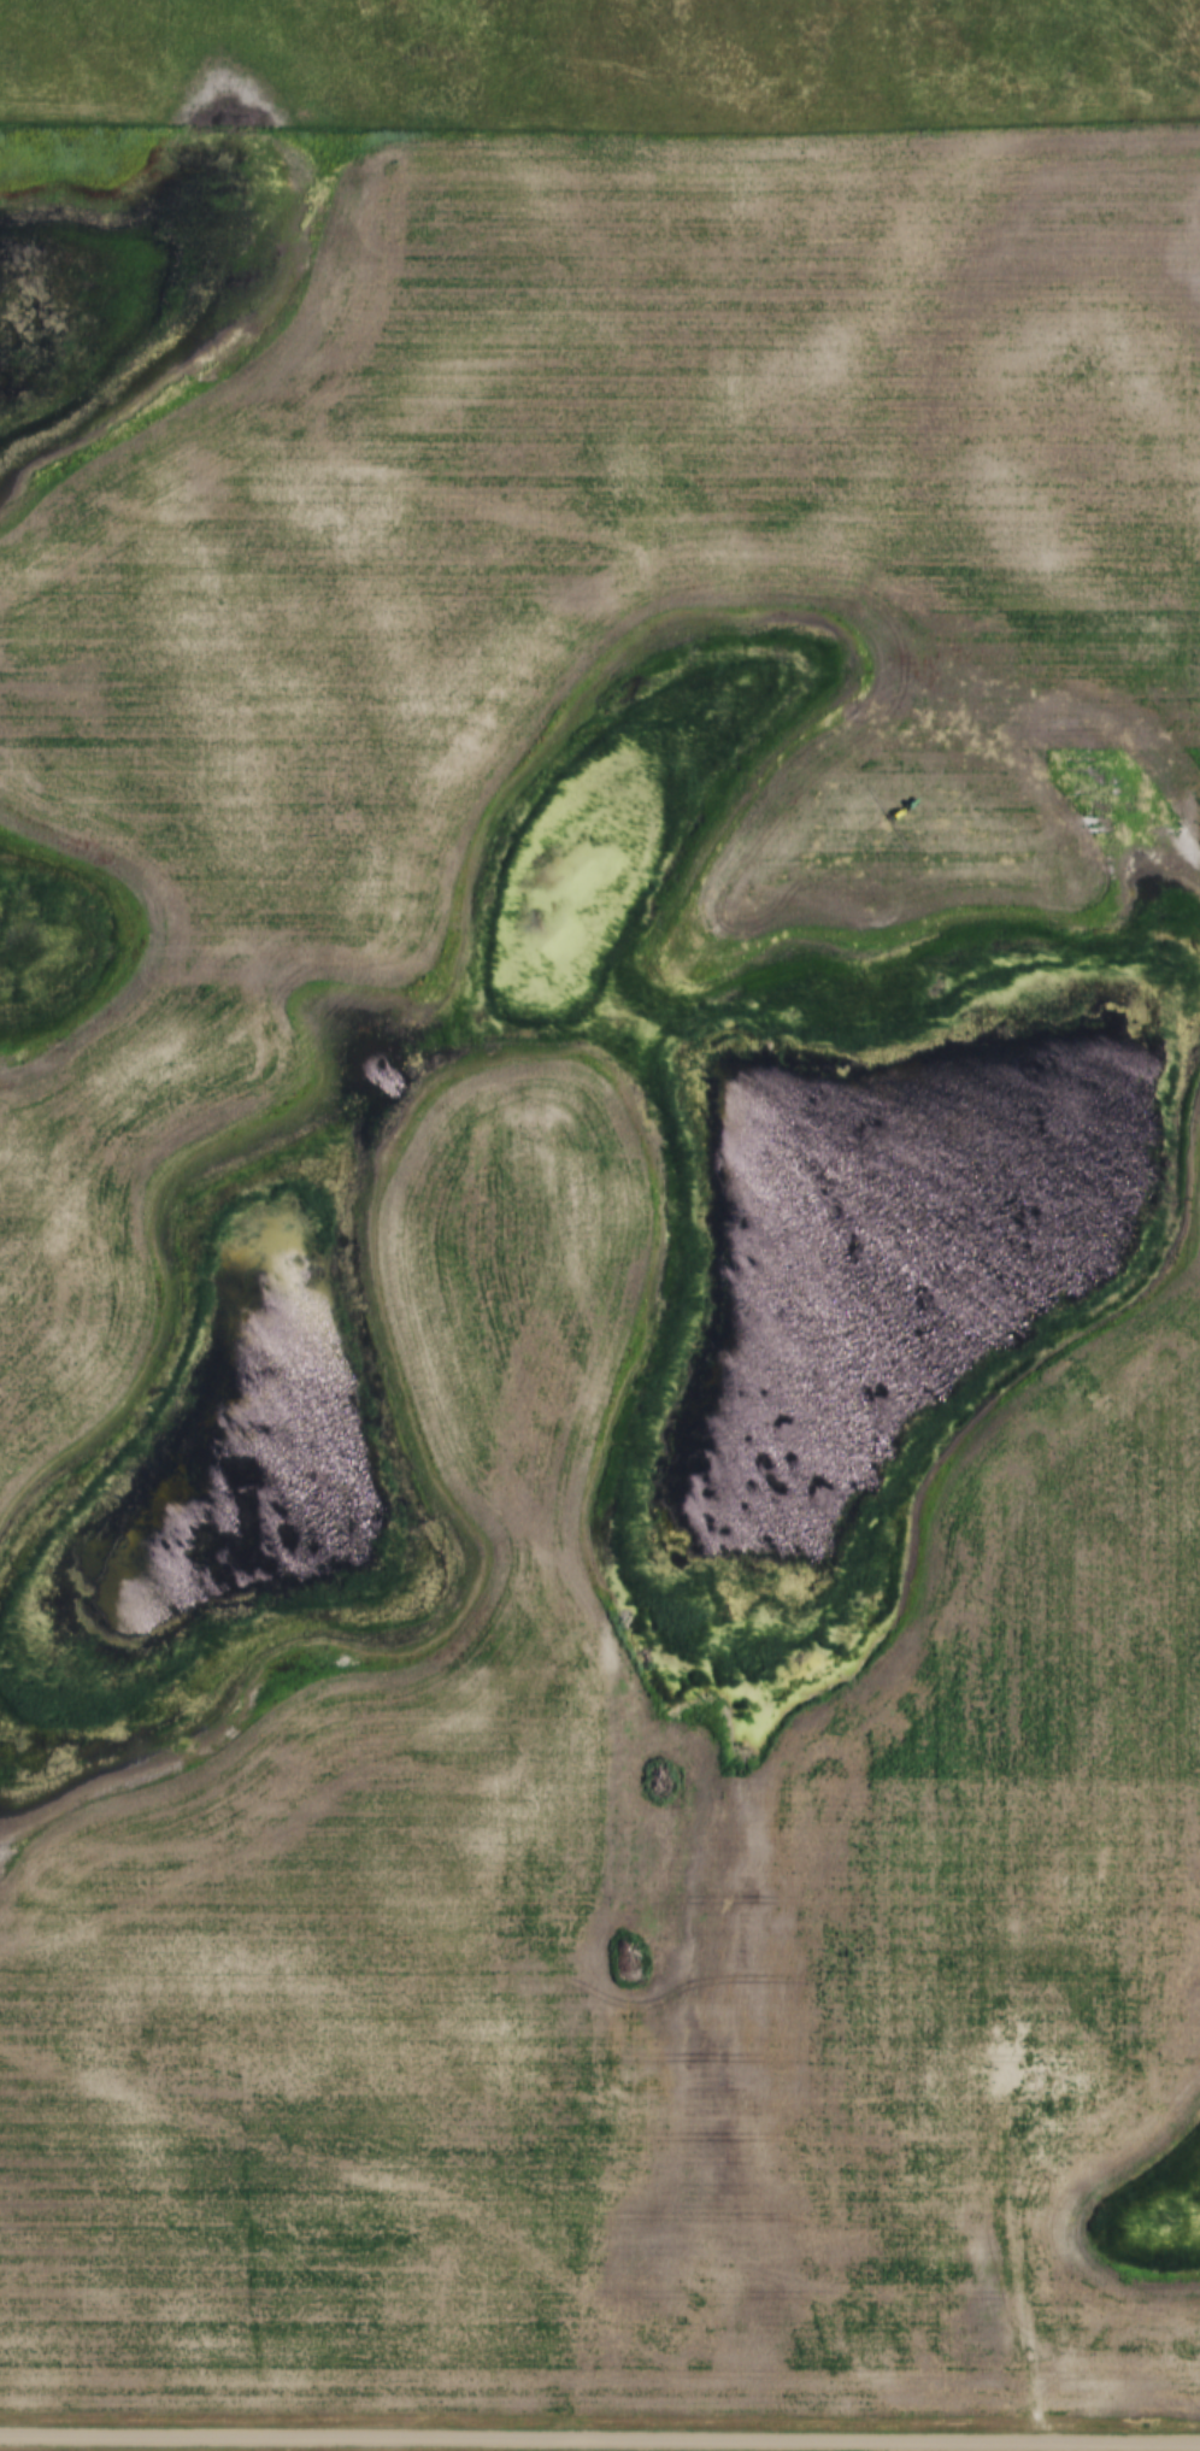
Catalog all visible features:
road: (599, 2440)

